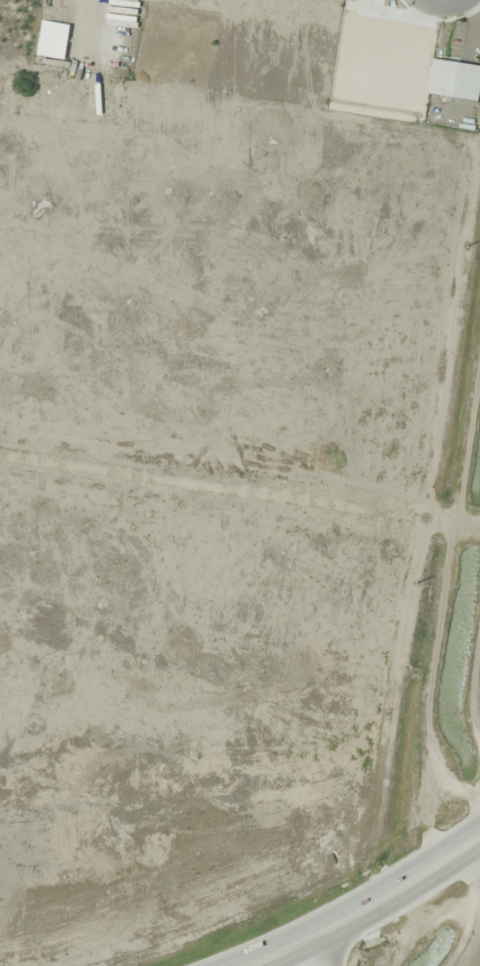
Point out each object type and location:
building: (455, 79)
road: (366, 910)
road: (332, 947)

